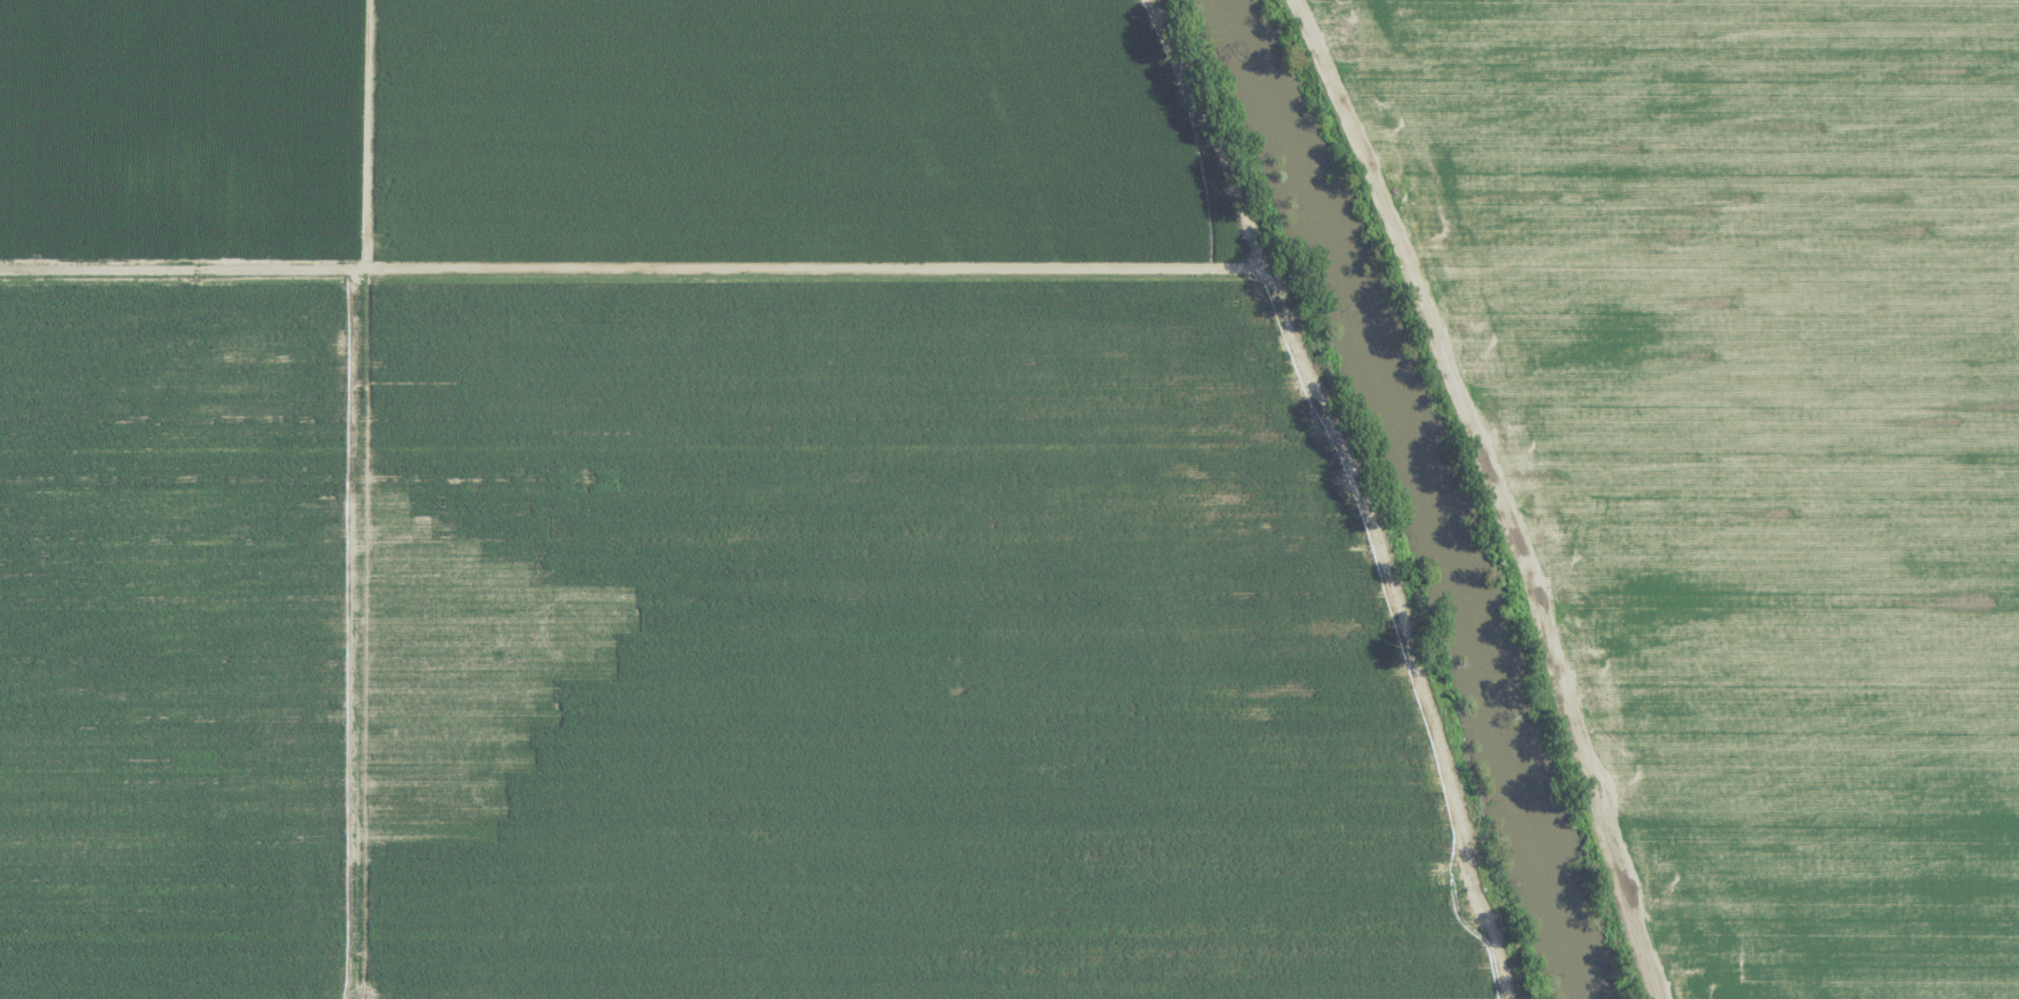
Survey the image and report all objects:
road: (366, 134)
road: (614, 266)
road: (1503, 489)
river: (1420, 492)

